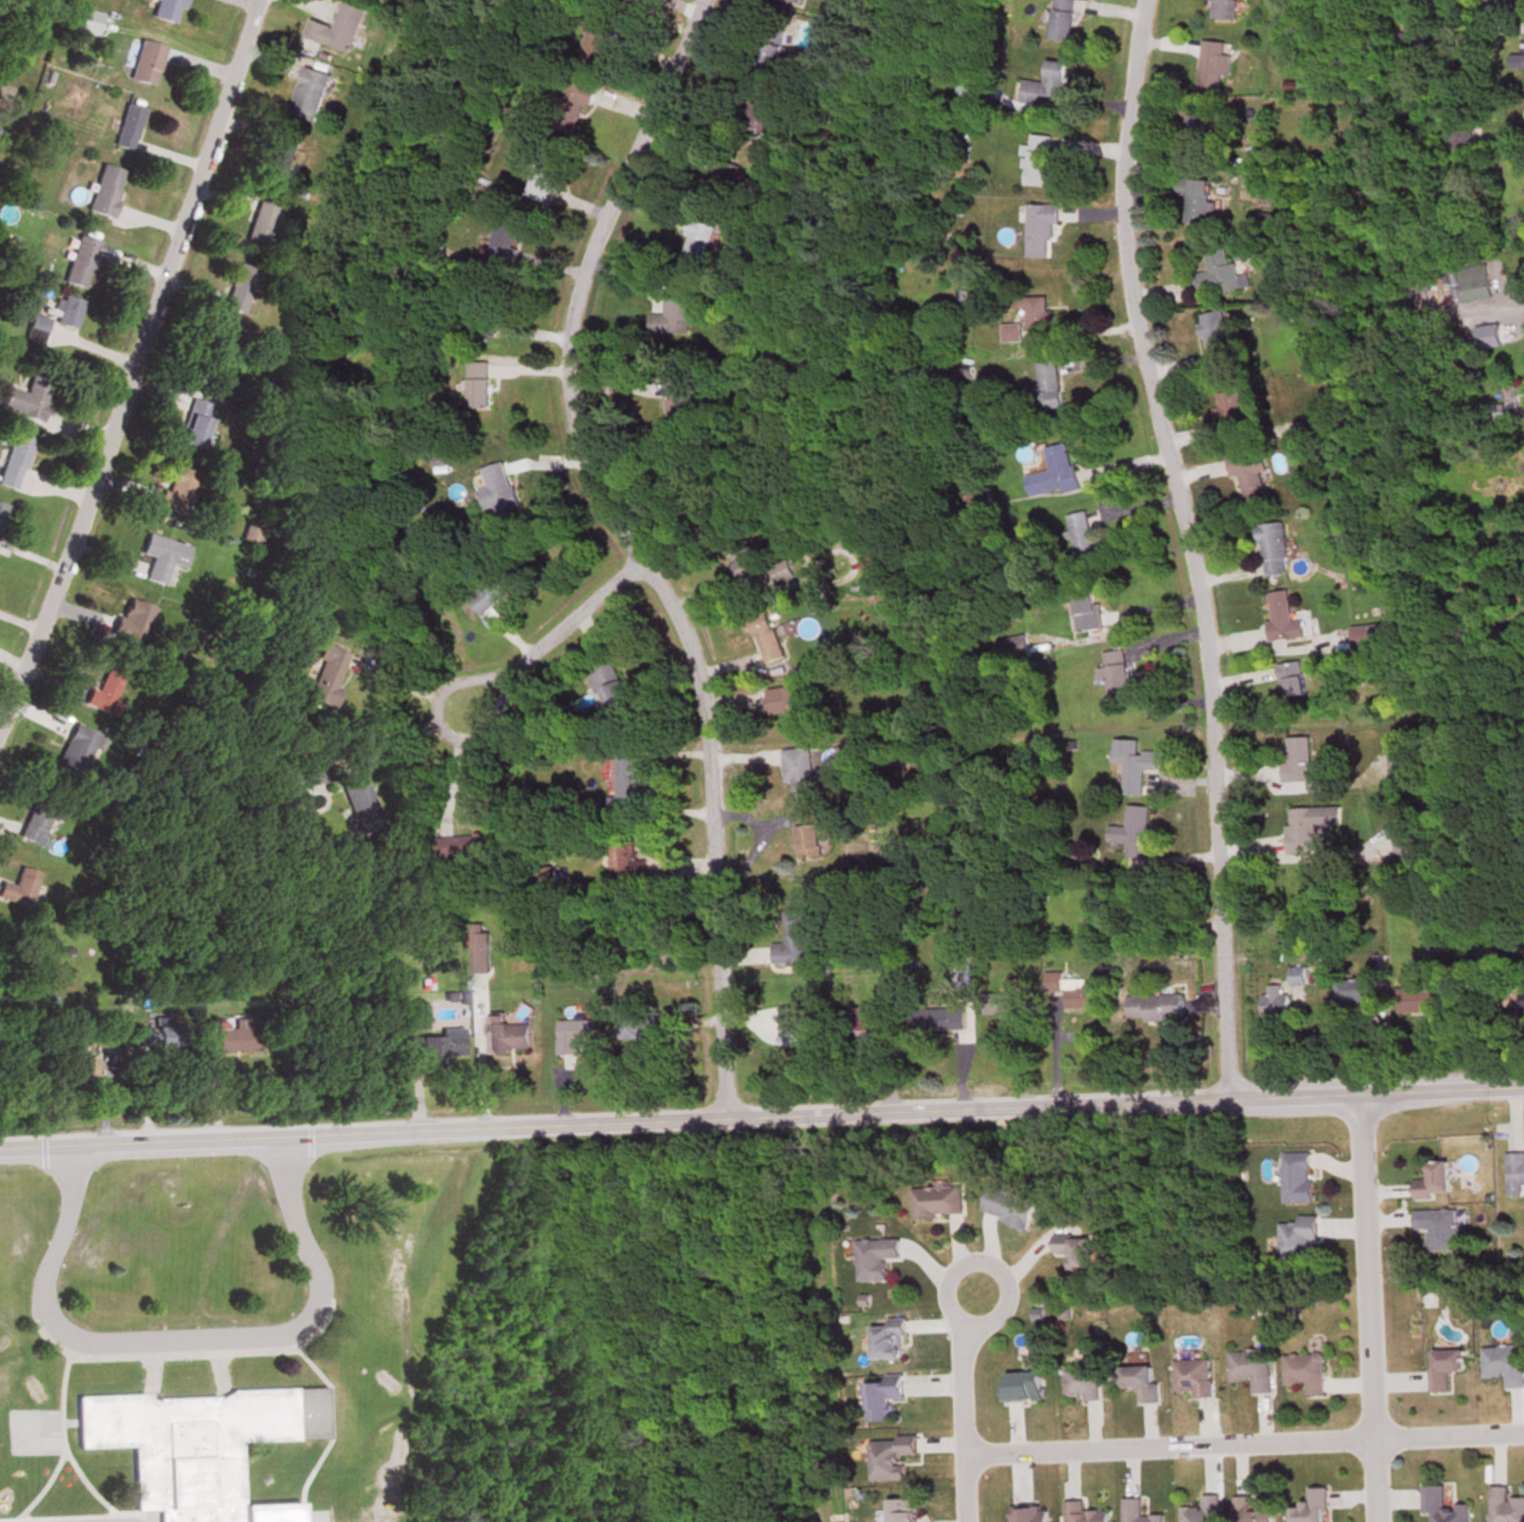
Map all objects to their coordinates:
building: (794, 1)
building: (618, 2)
building: (1223, 8)
building: (164, 10)
building: (82, 19)
building: (1061, 19)
building: (594, 40)
building: (769, 48)
building: (1523, 48)
building: (144, 61)
building: (1212, 63)
building: (1045, 85)
building: (308, 92)
building: (570, 105)
building: (760, 110)
building: (125, 125)
building: (1200, 130)
building: (1457, 137)
building: (281, 153)
building: (1036, 159)
building: (103, 189)
building: (1195, 198)
building: (261, 218)
building: (1040, 229)
building: (502, 238)
building: (694, 244)
building: (79, 260)
building: (1218, 270)
building: (1472, 281)
building: (238, 286)
building: (65, 310)
building: (1034, 311)
building: (670, 317)
building: (1009, 332)
building: (1214, 337)
building: (214, 355)
road: (131, 362)
building: (476, 383)
building: (1048, 383)
building: (24, 399)
building: (679, 404)
building: (1232, 409)
building: (194, 422)
building: (1312, 424)
building: (13, 458)
building: (1052, 471)
building: (1248, 476)
building: (494, 484)
road: (1102, 487)
building: (176, 488)
building: (974, 497)
building: (249, 529)
building: (1081, 535)
building: (860, 537)
road: (1190, 545)
road: (629, 546)
building: (1272, 547)
building: (870, 554)
building: (161, 555)
building: (755, 562)
road: (721, 586)
building: (490, 591)
building: (1085, 609)
building: (1282, 615)
building: (130, 619)
road: (553, 629)
building: (1366, 633)
building: (764, 635)
building: (1008, 648)
road: (1165, 663)
building: (1112, 670)
building: (325, 674)
building: (1291, 678)
road: (412, 682)
building: (610, 686)
building: (102, 689)
building: (788, 701)
road: (411, 724)
building: (74, 750)
building: (1297, 759)
road: (455, 761)
building: (1133, 762)
building: (798, 769)
building: (308, 773)
road: (653, 773)
building: (628, 784)
building: (358, 804)
building: (35, 818)
building: (1309, 825)
building: (1132, 830)
building: (810, 831)
building: (1416, 842)
building: (464, 845)
building: (625, 860)
building: (18, 887)
building: (790, 938)
building: (478, 950)
building: (1298, 974)
building: (1071, 989)
building: (1356, 992)
building: (1423, 996)
building: (1522, 997)
building: (1274, 1000)
building: (999, 1003)
building: (1153, 1005)
building: (936, 1018)
building: (865, 1019)
building: (648, 1023)
building: (99, 1031)
building: (572, 1034)
building: (235, 1035)
building: (507, 1035)
building: (435, 1043)
road: (1056, 1048)
road: (480, 1054)
building: (206, 1067)
building: (76, 1068)
road: (761, 1112)
building: (1514, 1173)
building: (1296, 1177)
building: (1432, 1181)
building: (936, 1201)
building: (1006, 1206)
building: (1437, 1227)
building: (1297, 1236)
building: (1071, 1252)
building: (874, 1257)
road: (984, 1261)
road: (1363, 1264)
road: (185, 1333)
building: (886, 1339)
building: (1503, 1363)
building: (1443, 1367)
building: (1250, 1368)
building: (1304, 1371)
building: (1191, 1377)
building: (1080, 1380)
building: (1138, 1382)
building: (1022, 1386)
building: (882, 1396)
road: (963, 1428)
road: (1244, 1443)
building: (196, 1444)
building: (889, 1455)
road: (1376, 1481)
building: (1441, 1505)
building: (1504, 1505)
building: (1309, 1506)
building: (899, 1509)
building: (1202, 1510)
building: (1248, 1510)
building: (1137, 1511)
building: (1082, 1512)
building: (1028, 1513)

